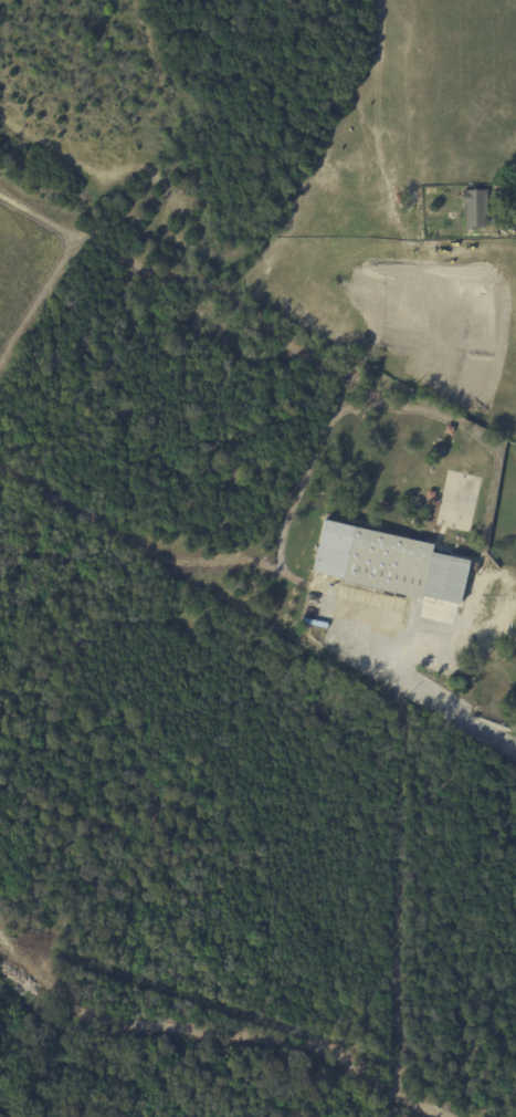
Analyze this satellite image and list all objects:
building: (431, 192)
building: (401, 200)
building: (473, 210)
building: (411, 414)
park: (455, 500)
building: (375, 505)
building: (387, 564)
road: (366, 644)
road: (428, 697)
building: (22, 923)

